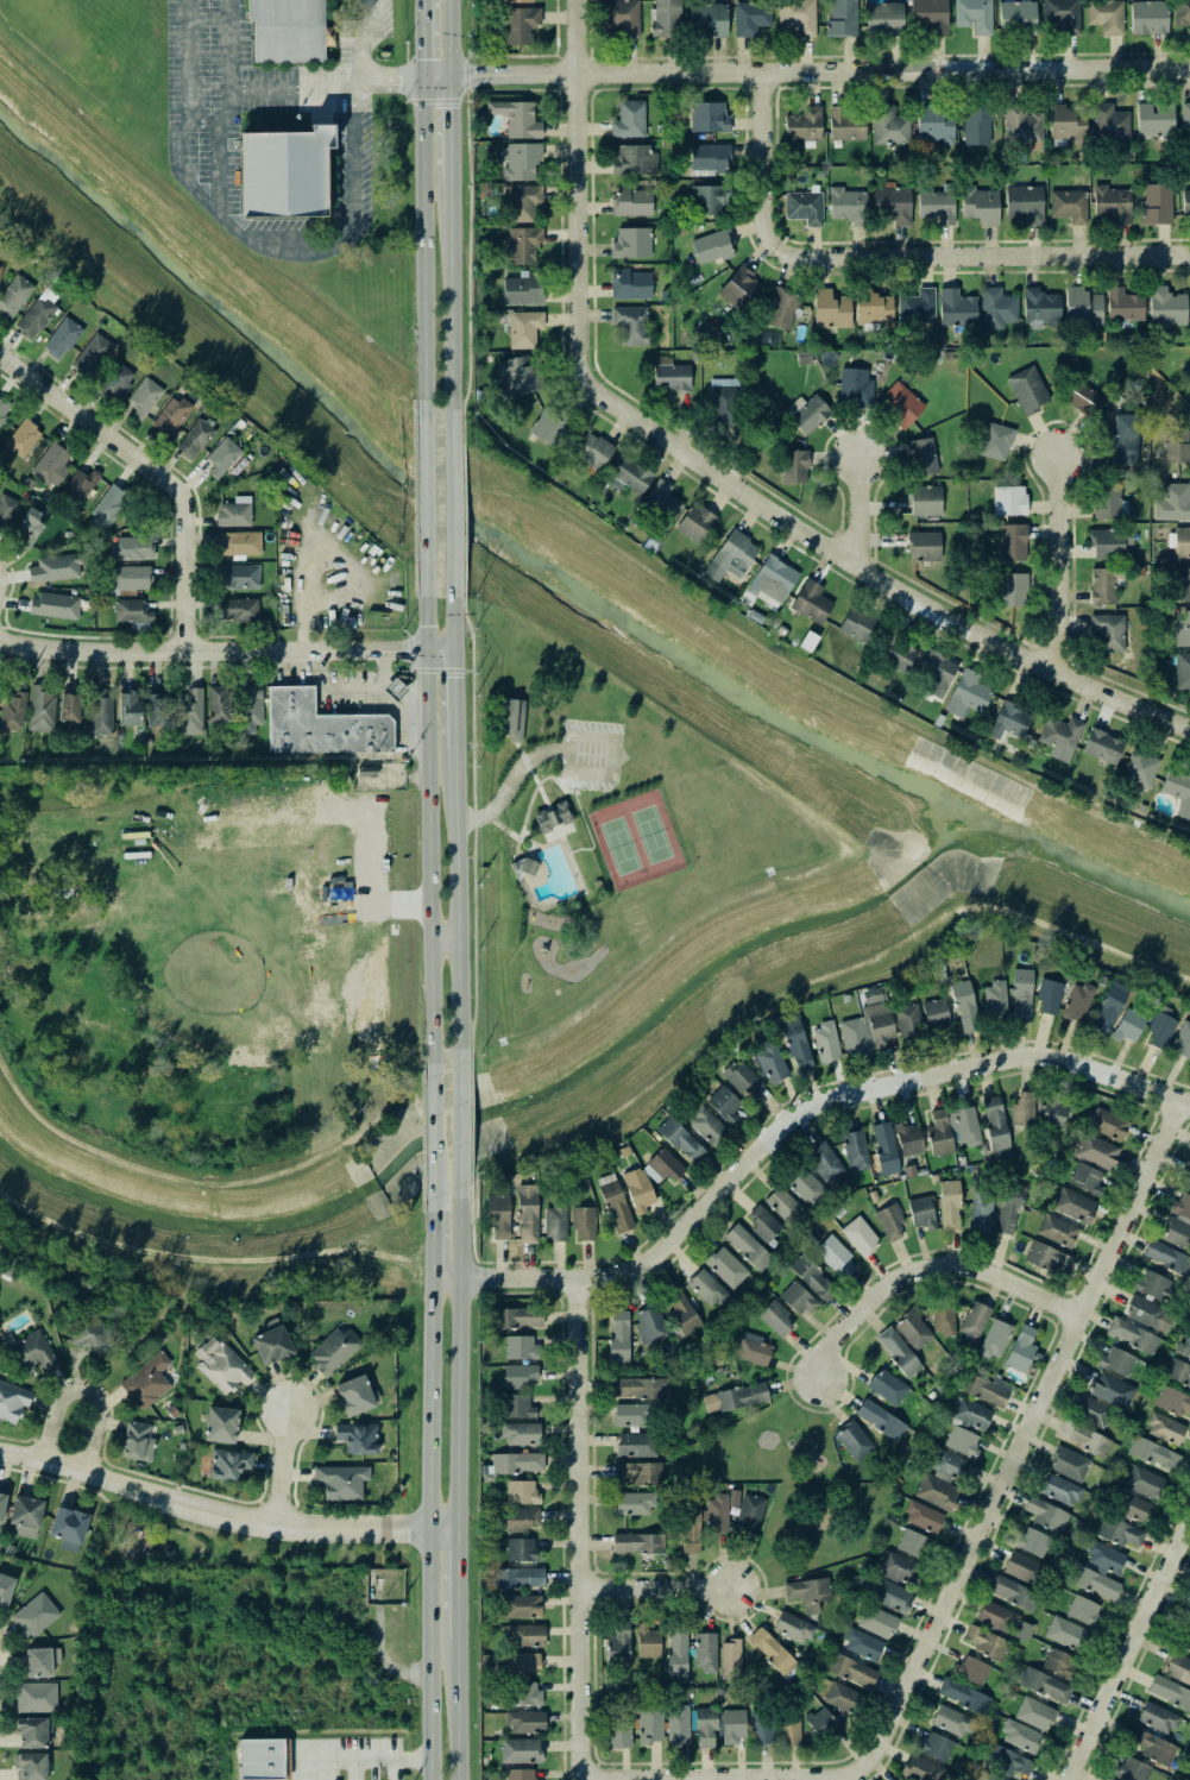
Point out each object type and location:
road: (422, 1)
building: (518, 1)
building: (1182, 13)
building: (930, 15)
building: (974, 15)
building: (1062, 15)
building: (1106, 15)
building: (623, 17)
building: (798, 17)
building: (1016, 17)
building: (666, 18)
building: (751, 18)
building: (843, 18)
building: (884, 18)
building: (1148, 18)
building: (710, 19)
building: (518, 24)
building: (282, 30)
road: (422, 38)
road: (448, 38)
road: (363, 39)
road: (229, 44)
road: (805, 70)
road: (182, 115)
building: (709, 117)
building: (1185, 117)
building: (517, 119)
building: (629, 119)
road: (202, 120)
building: (1154, 120)
building: (1110, 121)
building: (804, 125)
building: (845, 125)
building: (934, 125)
building: (977, 125)
building: (889, 126)
building: (1066, 126)
road: (447, 127)
building: (1024, 127)
building: (709, 159)
building: (520, 161)
building: (634, 161)
building: (282, 175)
road: (575, 191)
building: (709, 200)
building: (522, 202)
building: (631, 202)
building: (1185, 202)
building: (894, 203)
building: (1025, 205)
building: (1112, 205)
building: (1157, 205)
building: (848, 206)
building: (936, 206)
building: (980, 206)
building: (1069, 206)
road: (221, 207)
building: (805, 208)
building: (632, 243)
building: (522, 245)
road: (423, 246)
building: (712, 247)
road: (896, 253)
building: (0, 269)
building: (631, 284)
building: (739, 288)
building: (523, 289)
building: (14, 296)
road: (448, 306)
building: (1125, 306)
building: (918, 307)
building: (1082, 307)
building: (1166, 307)
building: (782, 308)
building: (873, 308)
building: (957, 308)
building: (997, 308)
building: (1040, 309)
building: (831, 310)
building: (38, 313)
building: (631, 326)
building: (524, 328)
road: (470, 336)
building: (62, 339)
building: (93, 356)
building: (516, 376)
building: (670, 376)
building: (115, 382)
building: (856, 386)
building: (1027, 390)
building: (144, 397)
building: (1083, 398)
building: (724, 400)
building: (902, 404)
building: (807, 413)
building: (2, 414)
building: (171, 416)
building: (550, 428)
building: (23, 436)
building: (195, 439)
building: (1122, 440)
building: (996, 441)
building: (1176, 446)
building: (592, 451)
building: (223, 457)
building: (923, 457)
building: (51, 465)
building: (794, 466)
road: (155, 467)
building: (629, 476)
road: (464, 482)
building: (80, 485)
road: (427, 496)
building: (662, 501)
building: (925, 501)
building: (1009, 501)
building: (1109, 502)
building: (1173, 503)
building: (107, 508)
road: (854, 509)
road: (452, 510)
building: (7, 511)
building: (234, 514)
building: (695, 523)
building: (29, 528)
building: (1013, 542)
building: (1182, 542)
building: (239, 543)
building: (1109, 543)
building: (924, 546)
building: (133, 548)
road: (348, 553)
building: (731, 556)
road: (1058, 562)
building: (56, 567)
river: (560, 574)
road: (875, 575)
building: (239, 577)
building: (130, 578)
building: (773, 579)
road: (464, 583)
building: (1104, 585)
building: (1013, 590)
building: (811, 602)
building: (55, 605)
building: (238, 610)
building: (132, 611)
road: (453, 617)
road: (470, 623)
road: (465, 624)
building: (858, 625)
building: (1183, 630)
building: (1108, 631)
road: (407, 633)
road: (468, 636)
building: (808, 641)
road: (226, 647)
traffic signals: (428, 647)
traffic signals: (453, 647)
road: (410, 649)
road: (473, 653)
road: (572, 653)
building: (899, 653)
road: (410, 666)
road: (379, 668)
road: (413, 669)
road: (440, 669)
road: (468, 671)
building: (937, 671)
building: (1183, 671)
gas station: (390, 687)
building: (972, 688)
road: (358, 691)
road: (454, 697)
building: (219, 704)
building: (70, 709)
building: (130, 709)
building: (251, 709)
building: (13, 710)
building: (42, 710)
building: (157, 710)
building: (101, 711)
building: (190, 711)
building: (509, 718)
building: (1009, 722)
building: (319, 725)
road: (592, 736)
building: (1060, 737)
road: (473, 738)
road: (567, 743)
road: (518, 747)
building: (1102, 747)
parking lot: (590, 754)
road: (613, 755)
road: (566, 760)
road: (525, 762)
building: (1140, 768)
road: (587, 772)
road: (534, 778)
road: (543, 778)
road: (510, 784)
road: (559, 784)
building: (1178, 790)
road: (568, 791)
road: (574, 791)
road: (542, 795)
road: (525, 810)
building: (552, 814)
road: (552, 814)
road: (583, 817)
road: (474, 818)
road: (484, 823)
road: (429, 825)
road: (504, 828)
park: (597, 835)
road: (562, 837)
park: (635, 837)
road: (473, 842)
road: (516, 844)
road: (591, 845)
road: (578, 848)
building: (527, 864)
road: (575, 872)
road: (454, 907)
road: (474, 942)
building: (871, 995)
building: (1021, 995)
building: (1049, 996)
building: (995, 1001)
building: (1077, 1002)
building: (965, 1007)
building: (1109, 1008)
building: (936, 1014)
building: (909, 1021)
building: (879, 1025)
building: (1128, 1025)
building: (1161, 1027)
building: (854, 1037)
road: (471, 1040)
building: (795, 1042)
building: (826, 1042)
building: (1183, 1042)
building: (769, 1063)
building: (741, 1078)
building: (724, 1103)
road: (470, 1108)
building: (1022, 1109)
building: (1052, 1113)
road: (791, 1124)
building: (1109, 1125)
road: (455, 1126)
building: (707, 1126)
building: (965, 1126)
building: (995, 1127)
building: (939, 1134)
road: (430, 1138)
building: (908, 1139)
building: (681, 1140)
building: (884, 1149)
building: (856, 1150)
building: (1097, 1151)
building: (825, 1162)
building: (663, 1166)
building: (1186, 1170)
building: (1085, 1177)
building: (806, 1187)
building: (638, 1190)
road: (430, 1202)
building: (379, 1206)
building: (616, 1206)
building: (785, 1206)
building: (1075, 1206)
building: (950, 1207)
building: (527, 1212)
building: (1009, 1212)
building: (921, 1213)
building: (981, 1213)
building: (498, 1215)
building: (555, 1222)
building: (584, 1222)
building: (762, 1222)
building: (890, 1222)
building: (1179, 1222)
building: (1058, 1231)
building: (860, 1237)
road: (430, 1243)
building: (748, 1247)
building: (836, 1257)
building: (1167, 1257)
building: (1047, 1258)
building: (726, 1268)
road: (925, 1268)
building: (813, 1278)
building: (1157, 1287)
building: (706, 1288)
building: (797, 1298)
building: (682, 1315)
building: (1150, 1315)
building: (518, 1317)
building: (944, 1317)
building: (775, 1319)
building: (975, 1321)
building: (650, 1326)
building: (913, 1329)
building: (92, 1333)
building: (1133, 1335)
building: (619, 1336)
building: (995, 1339)
building: (271, 1342)
building: (522, 1348)
building: (751, 1348)
building: (27, 1350)
building: (332, 1350)
building: (1021, 1350)
building: (898, 1352)
road: (457, 1357)
building: (1116, 1361)
building: (221, 1365)
building: (1179, 1365)
building: (521, 1376)
building: (147, 1380)
building: (888, 1386)
building: (641, 1388)
building: (984, 1389)
road: (78, 1390)
building: (1112, 1390)
building: (354, 1396)
building: (735, 1398)
building: (11, 1401)
building: (1172, 1401)
building: (518, 1407)
building: (1093, 1413)
building: (634, 1415)
building: (971, 1415)
building: (880, 1420)
building: (221, 1424)
building: (1163, 1427)
building: (521, 1434)
building: (358, 1438)
building: (1084, 1439)
building: (854, 1440)
road: (1027, 1440)
building: (137, 1441)
building: (962, 1442)
building: (636, 1445)
building: (1154, 1454)
building: (517, 1463)
building: (228, 1464)
building: (1069, 1464)
road: (279, 1472)
building: (638, 1473)
building: (940, 1479)
building: (341, 1482)
road: (70, 1483)
building: (1144, 1483)
park: (789, 1487)
building: (1060, 1490)
building: (522, 1492)
building: (1, 1498)
building: (635, 1503)
building: (1133, 1508)
building: (719, 1511)
building: (23, 1514)
building: (749, 1514)
building: (1046, 1515)
building: (923, 1517)
road: (117, 1518)
road: (222, 1520)
building: (521, 1520)
building: (67, 1526)
road: (585, 1527)
building: (691, 1528)
road: (424, 1529)
building: (1120, 1533)
building: (1033, 1542)
building: (637, 1543)
building: (913, 1543)
park: (202, 1545)
building: (522, 1549)
building: (164, 1552)
building: (1104, 1559)
building: (899, 1568)
building: (1024, 1568)
building: (517, 1578)
road: (454, 1581)
road: (673, 1581)
building: (1094, 1583)
building: (4, 1586)
building: (1013, 1592)
building: (808, 1593)
building: (892, 1596)
building: (522, 1606)
building: (1083, 1611)
building: (32, 1614)
building: (996, 1617)
building: (877, 1622)
building: (793, 1628)
building: (1066, 1634)
building: (524, 1636)
building: (1185, 1640)
building: (648, 1642)
building: (987, 1643)
building: (863, 1644)
building: (618, 1646)
road: (1128, 1650)
building: (676, 1652)
building: (705, 1652)
building: (773, 1653)
building: (730, 1659)
building: (38, 1660)
building: (518, 1663)
building: (1059, 1665)
building: (1178, 1667)
building: (851, 1671)
building: (971, 1671)
building: (1045, 1685)
building: (525, 1693)
building: (1169, 1693)
building: (964, 1696)
building: (36, 1697)
building: (843, 1698)
road: (454, 1707)
building: (1034, 1713)
building: (1158, 1718)
building: (951, 1721)
building: (525, 1722)
building: (650, 1723)
building: (821, 1723)
building: (678, 1724)
building: (732, 1725)
building: (705, 1728)
building: (763, 1728)
building: (789, 1729)
building: (31, 1732)
building: (622, 1732)
building: (1021, 1736)
building: (936, 1746)
building: (1153, 1747)
building: (521, 1750)
building: (263, 1760)
road: (361, 1760)
building: (1007, 1761)
building: (29, 1765)
building: (921, 1769)
road: (352, 1770)
building: (1132, 1770)
building: (522, 1774)
road: (724, 1774)
building: (990, 1776)
building: (898, 1779)
building: (1106, 1779)

